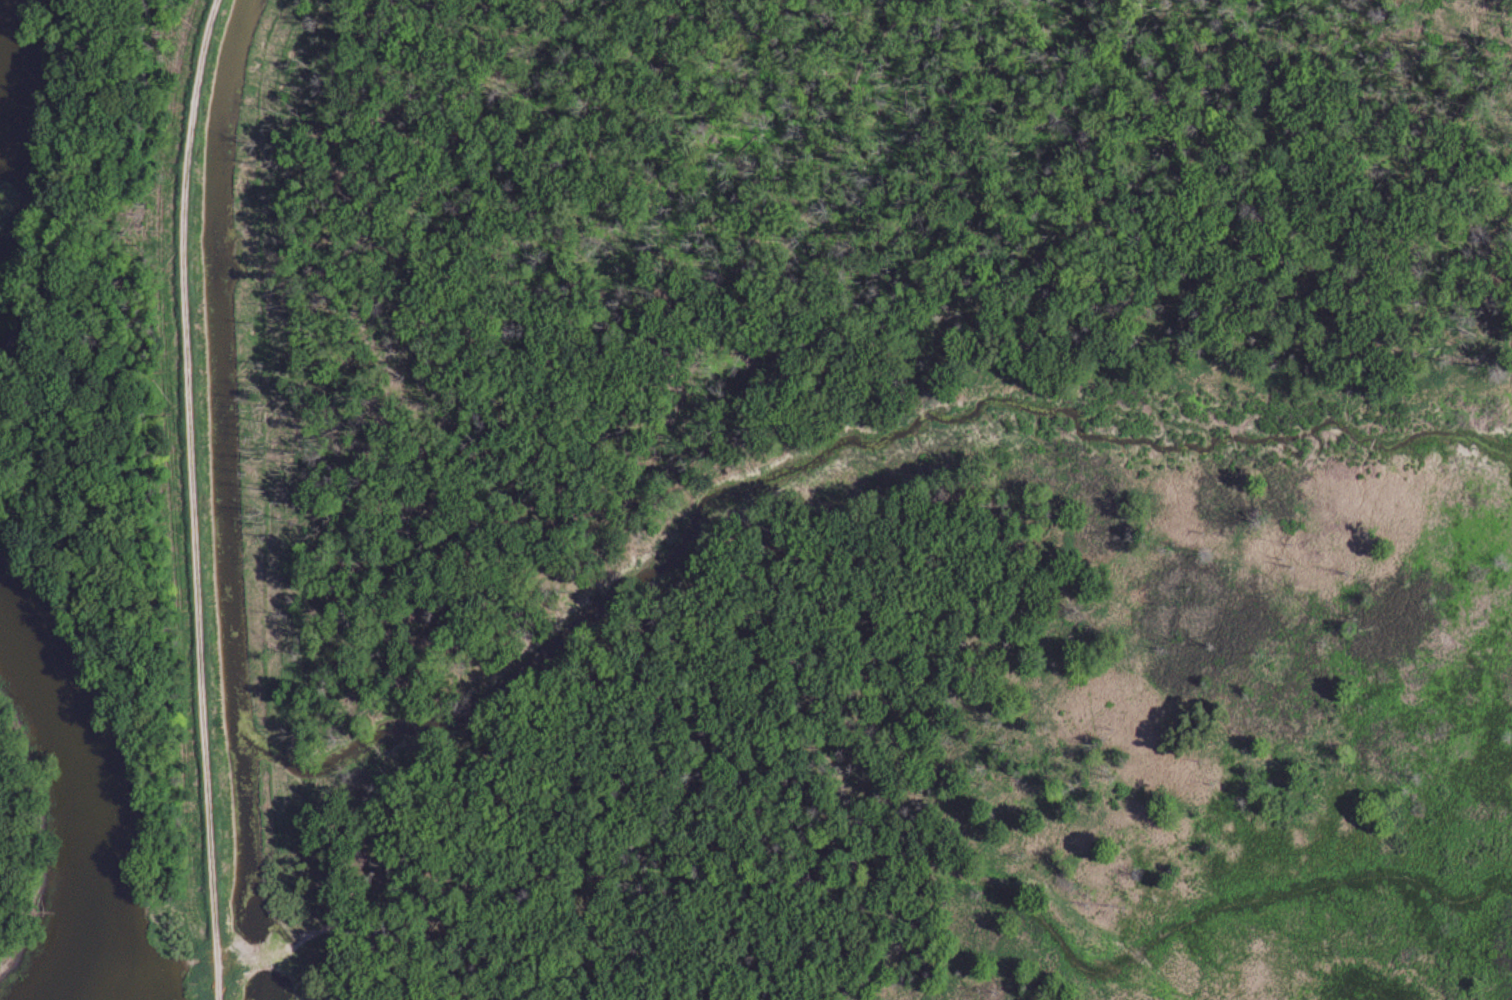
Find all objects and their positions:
road: (193, 506)
river: (70, 810)

